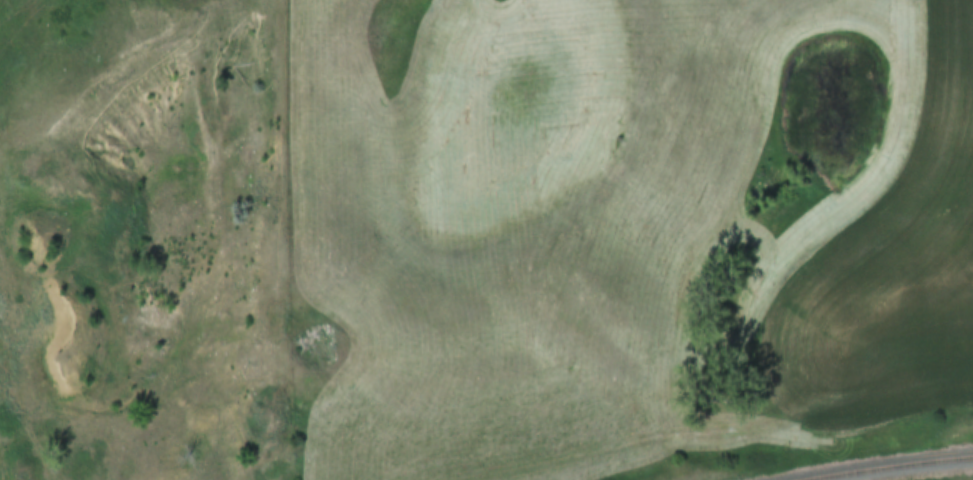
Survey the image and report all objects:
road: (326, 286)
road: (26, 420)
railway: (889, 465)

